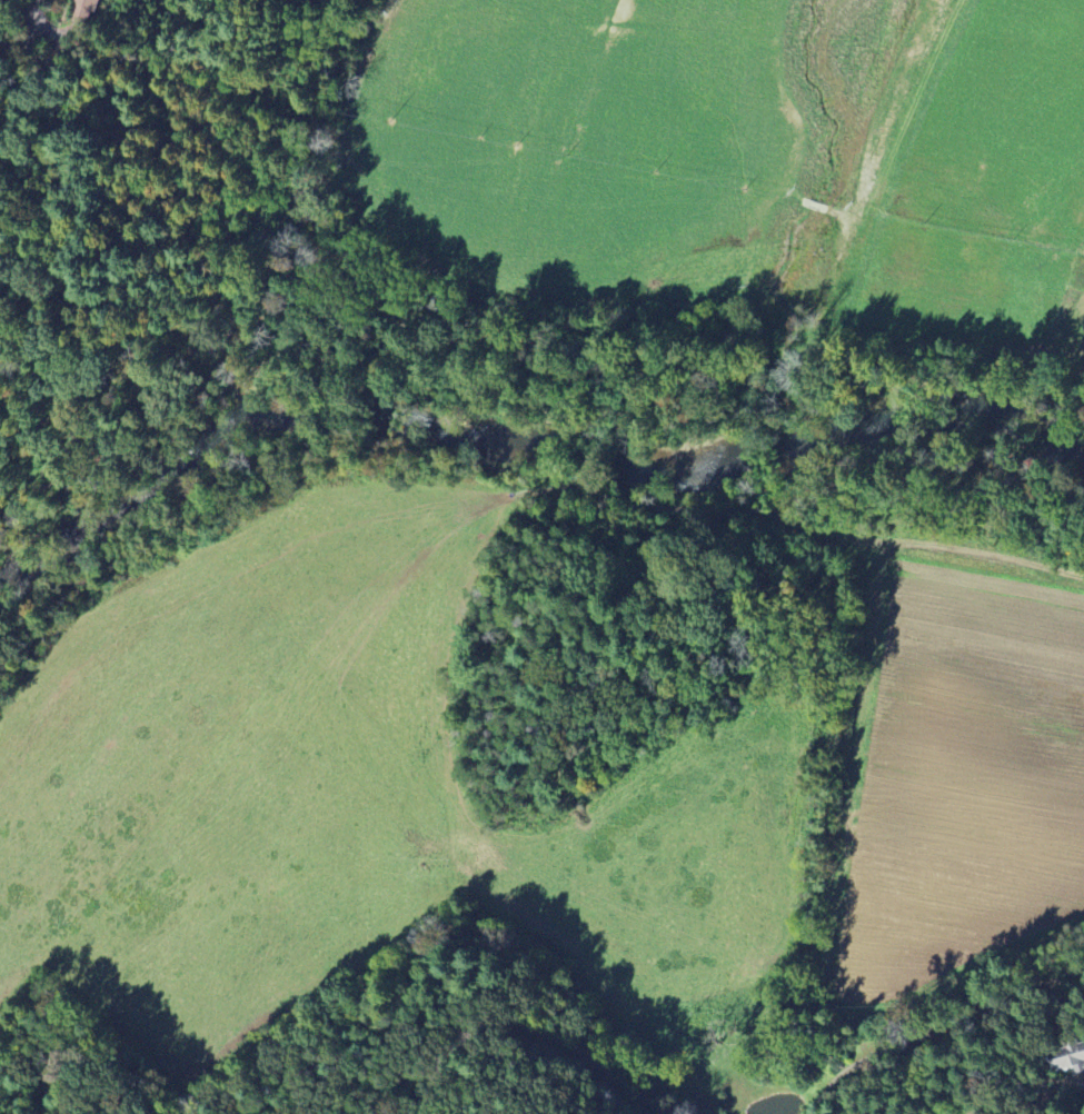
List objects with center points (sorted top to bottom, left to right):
building: (84, 8)
road: (34, 16)
crop: (625, 130)
crop: (986, 188)
road: (511, 329)
river: (520, 446)
crop: (962, 776)
crop: (352, 802)
road: (936, 1024)
building: (1067, 1058)
road: (629, 1088)

